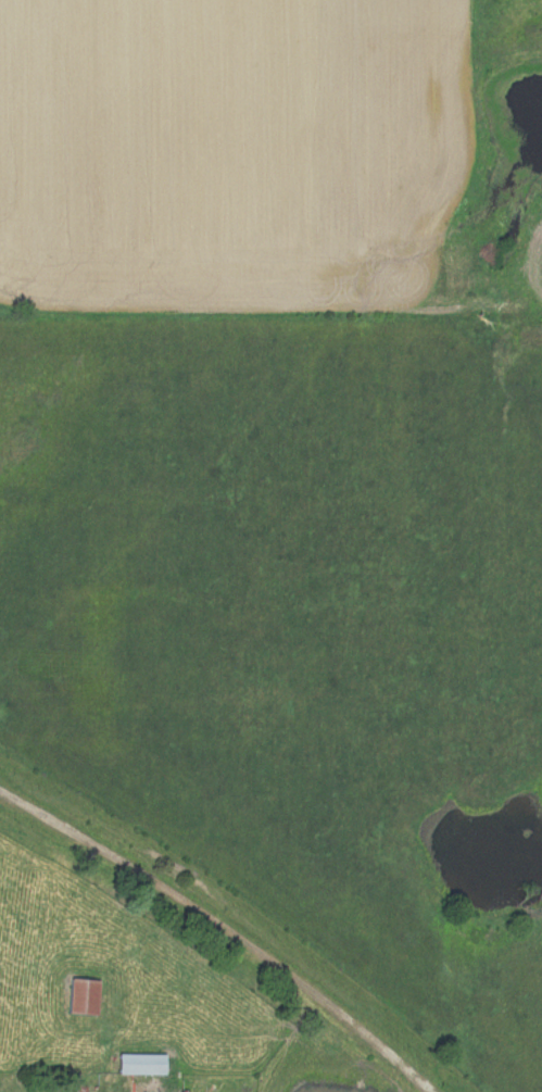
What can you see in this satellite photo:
building: (84, 995)
building: (141, 1063)

